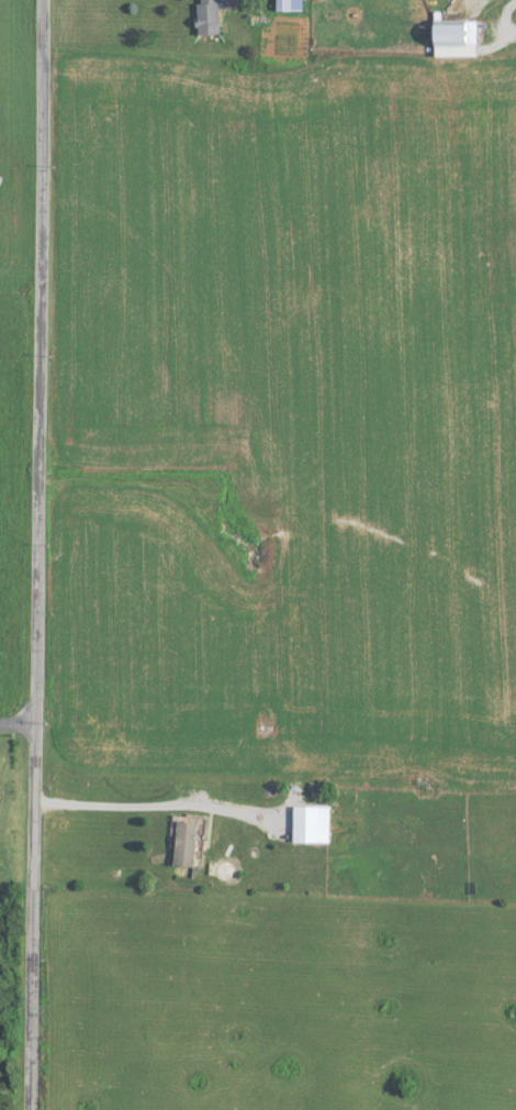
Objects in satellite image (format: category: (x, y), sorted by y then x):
building: (278, 4)
building: (206, 15)
building: (446, 37)
road: (33, 554)
road: (15, 720)
road: (157, 803)
building: (299, 824)
building: (177, 843)

